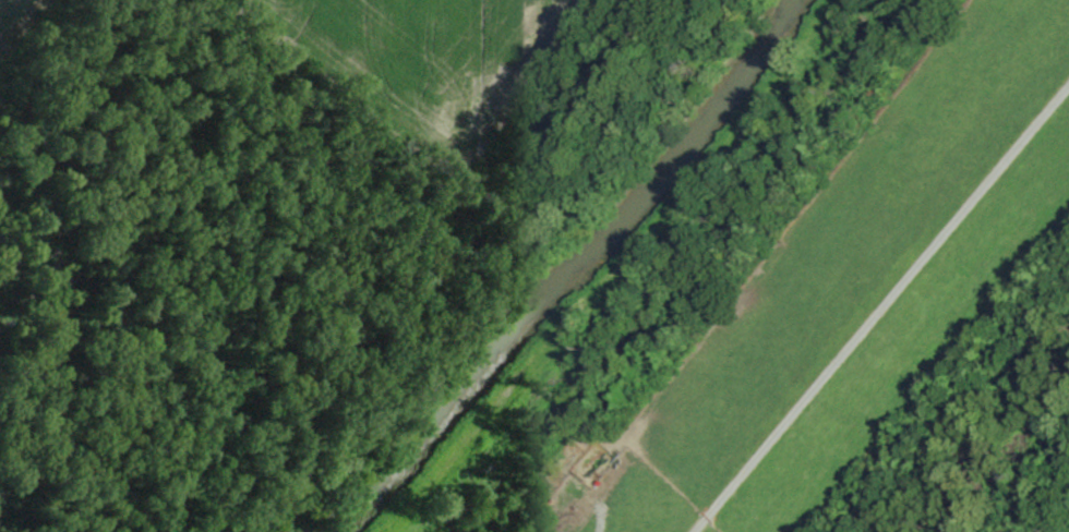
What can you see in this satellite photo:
road: (881, 307)

